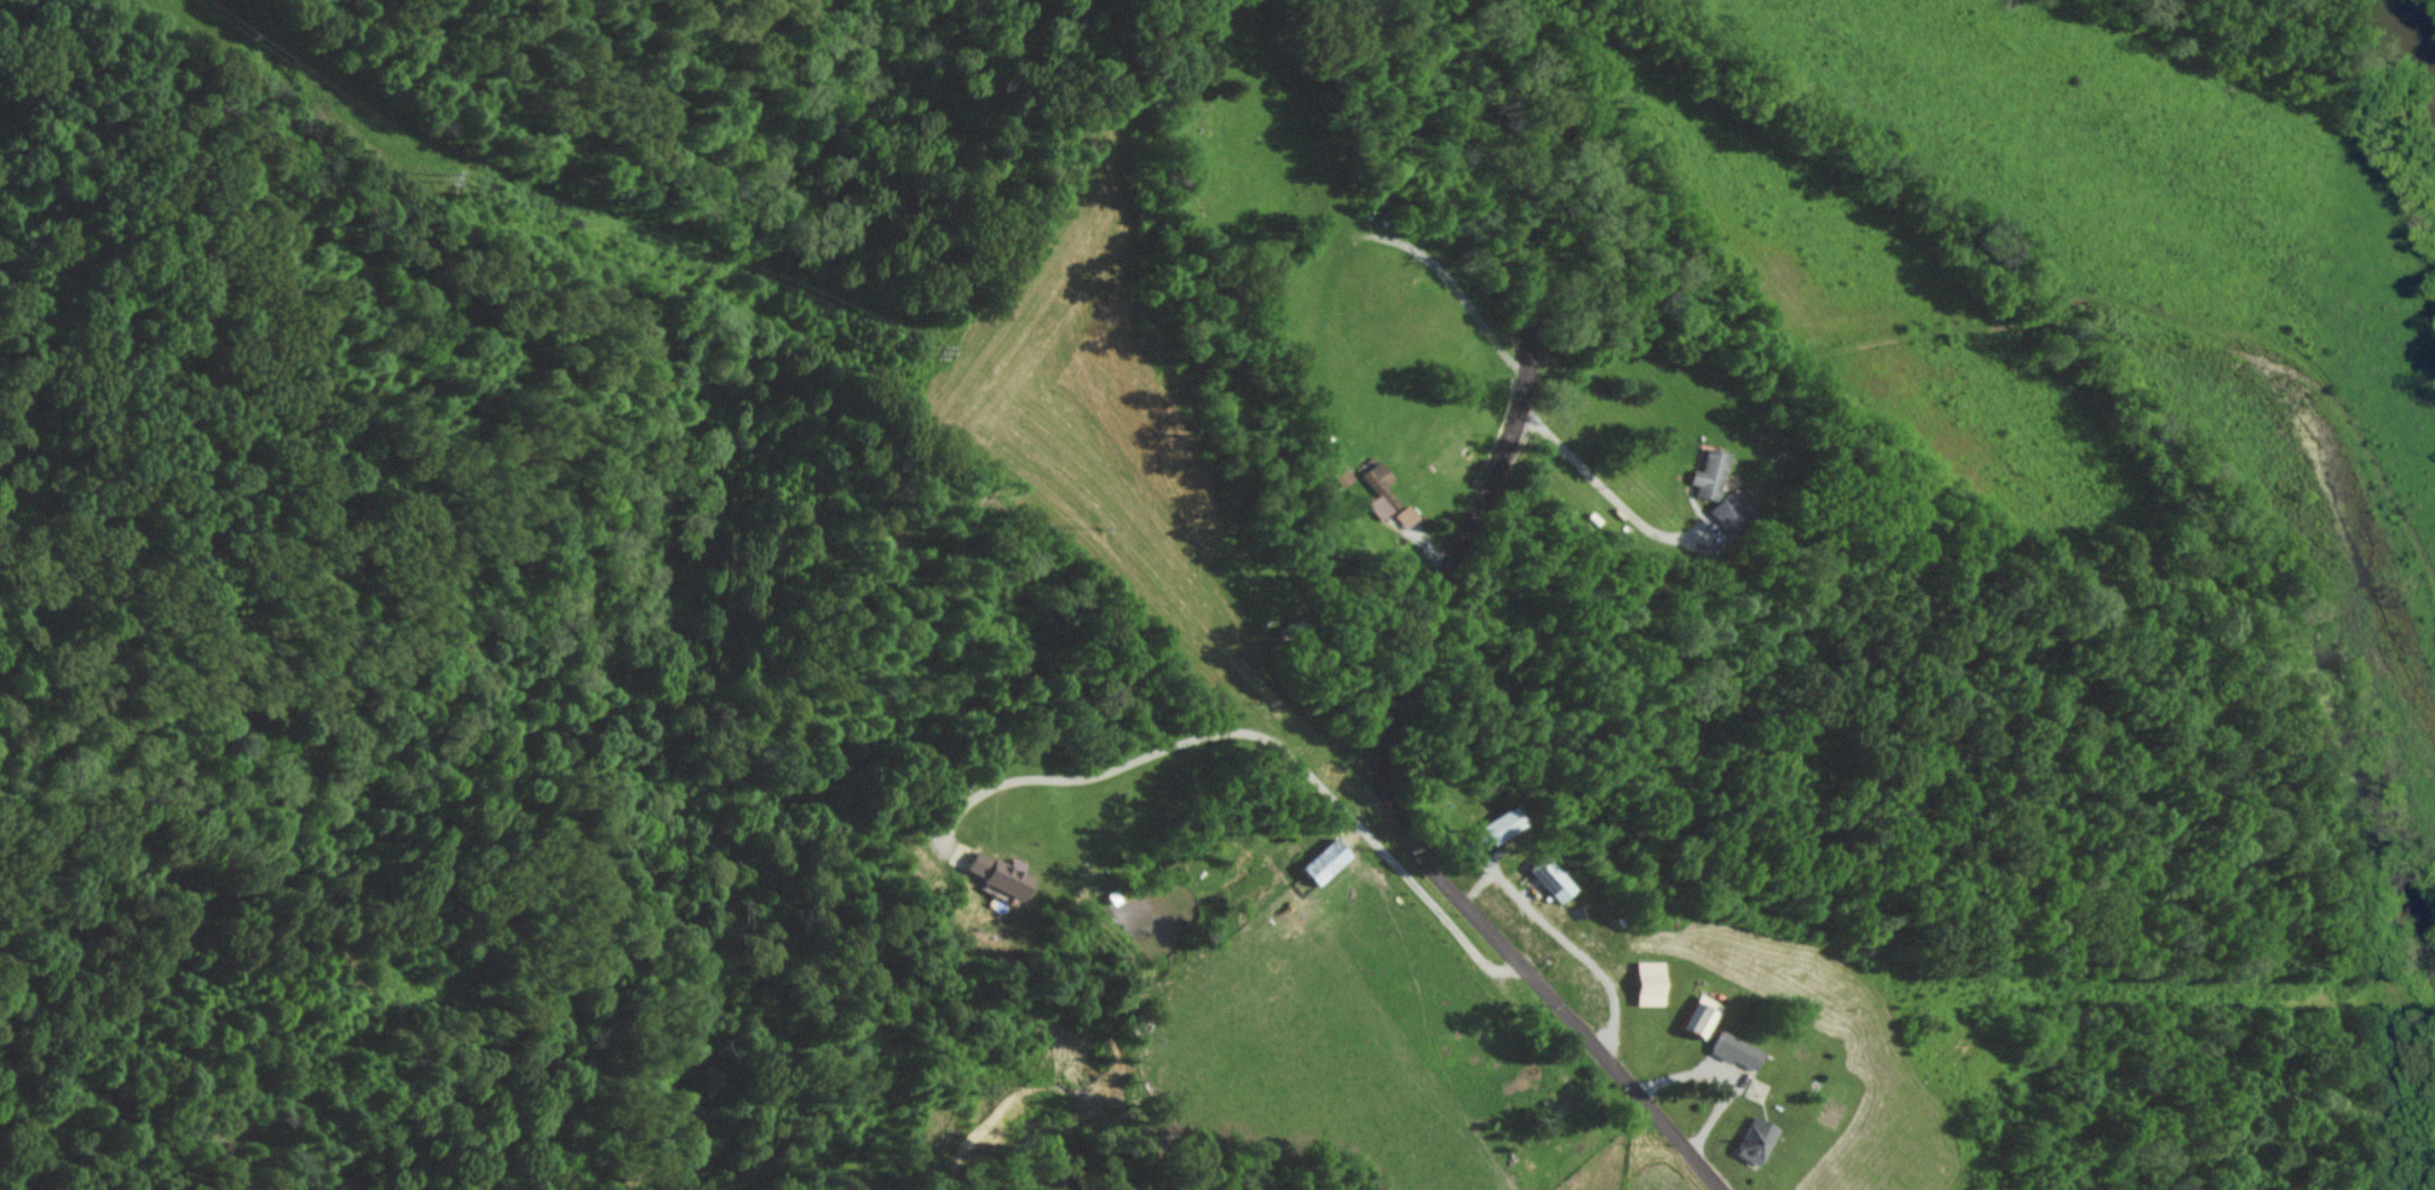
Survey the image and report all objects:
river: (2414, 30)
building: (1342, 473)
building: (1709, 473)
building: (1377, 489)
road: (1596, 504)
building: (1728, 511)
building: (1405, 514)
road: (1411, 648)
building: (1498, 824)
building: (1323, 861)
building: (996, 873)
building: (1549, 878)
building: (1647, 982)
power substation: (1599, 983)
building: (1699, 1016)
building: (1734, 1051)
building: (1754, 1140)

